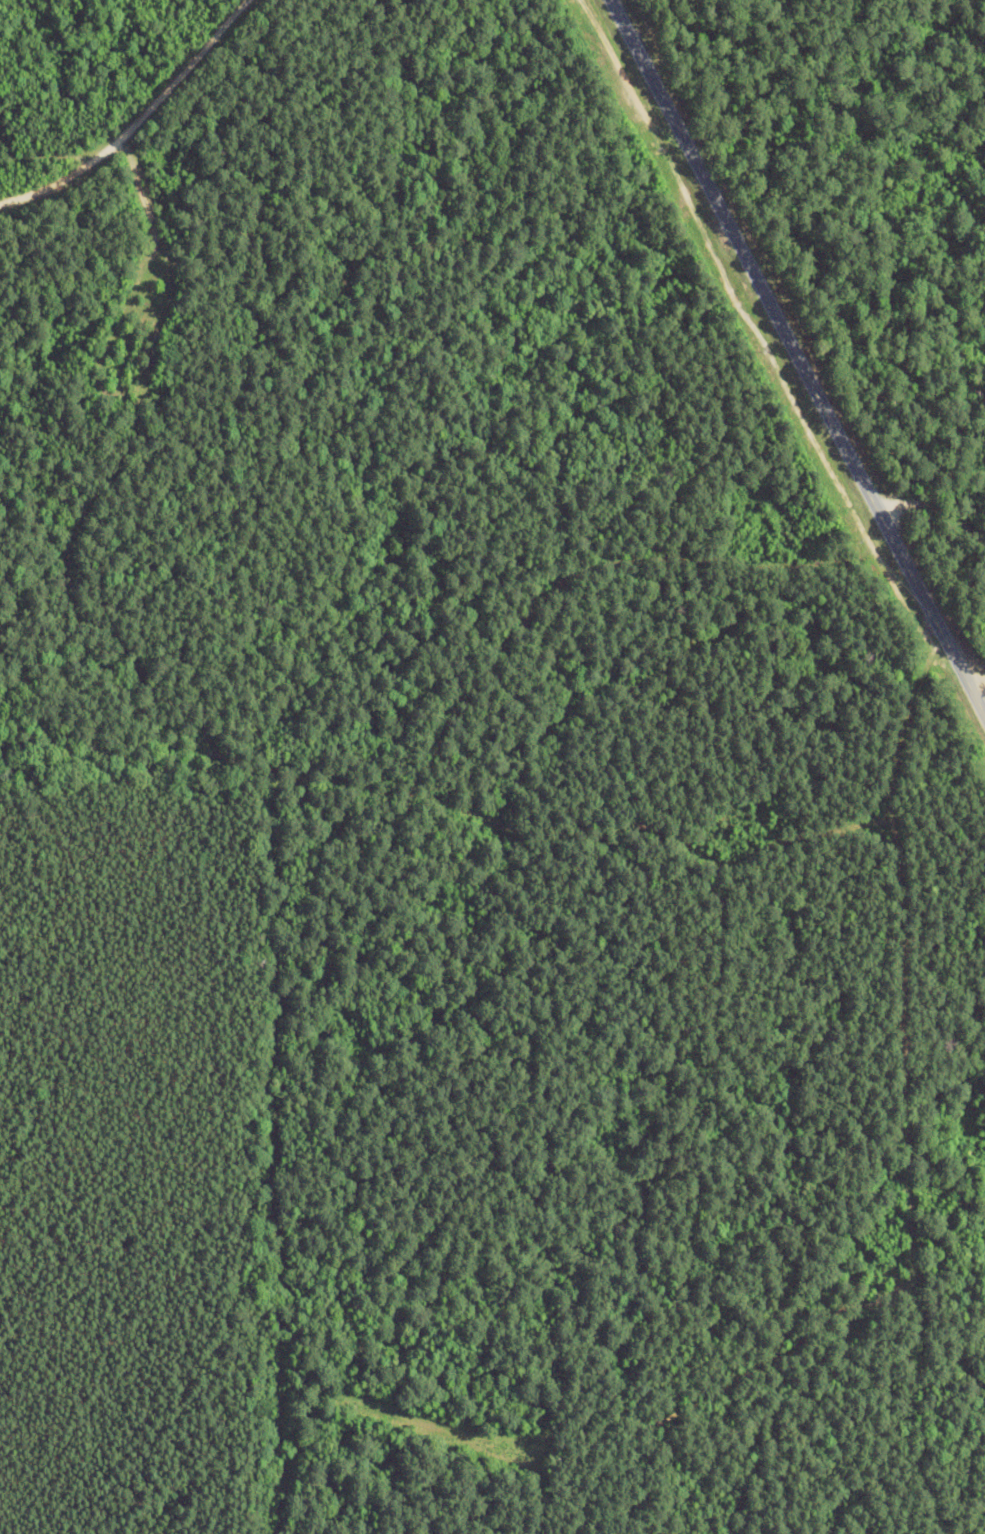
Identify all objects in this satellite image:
road: (135, 120)
road: (797, 356)
road: (933, 505)
road: (977, 680)

